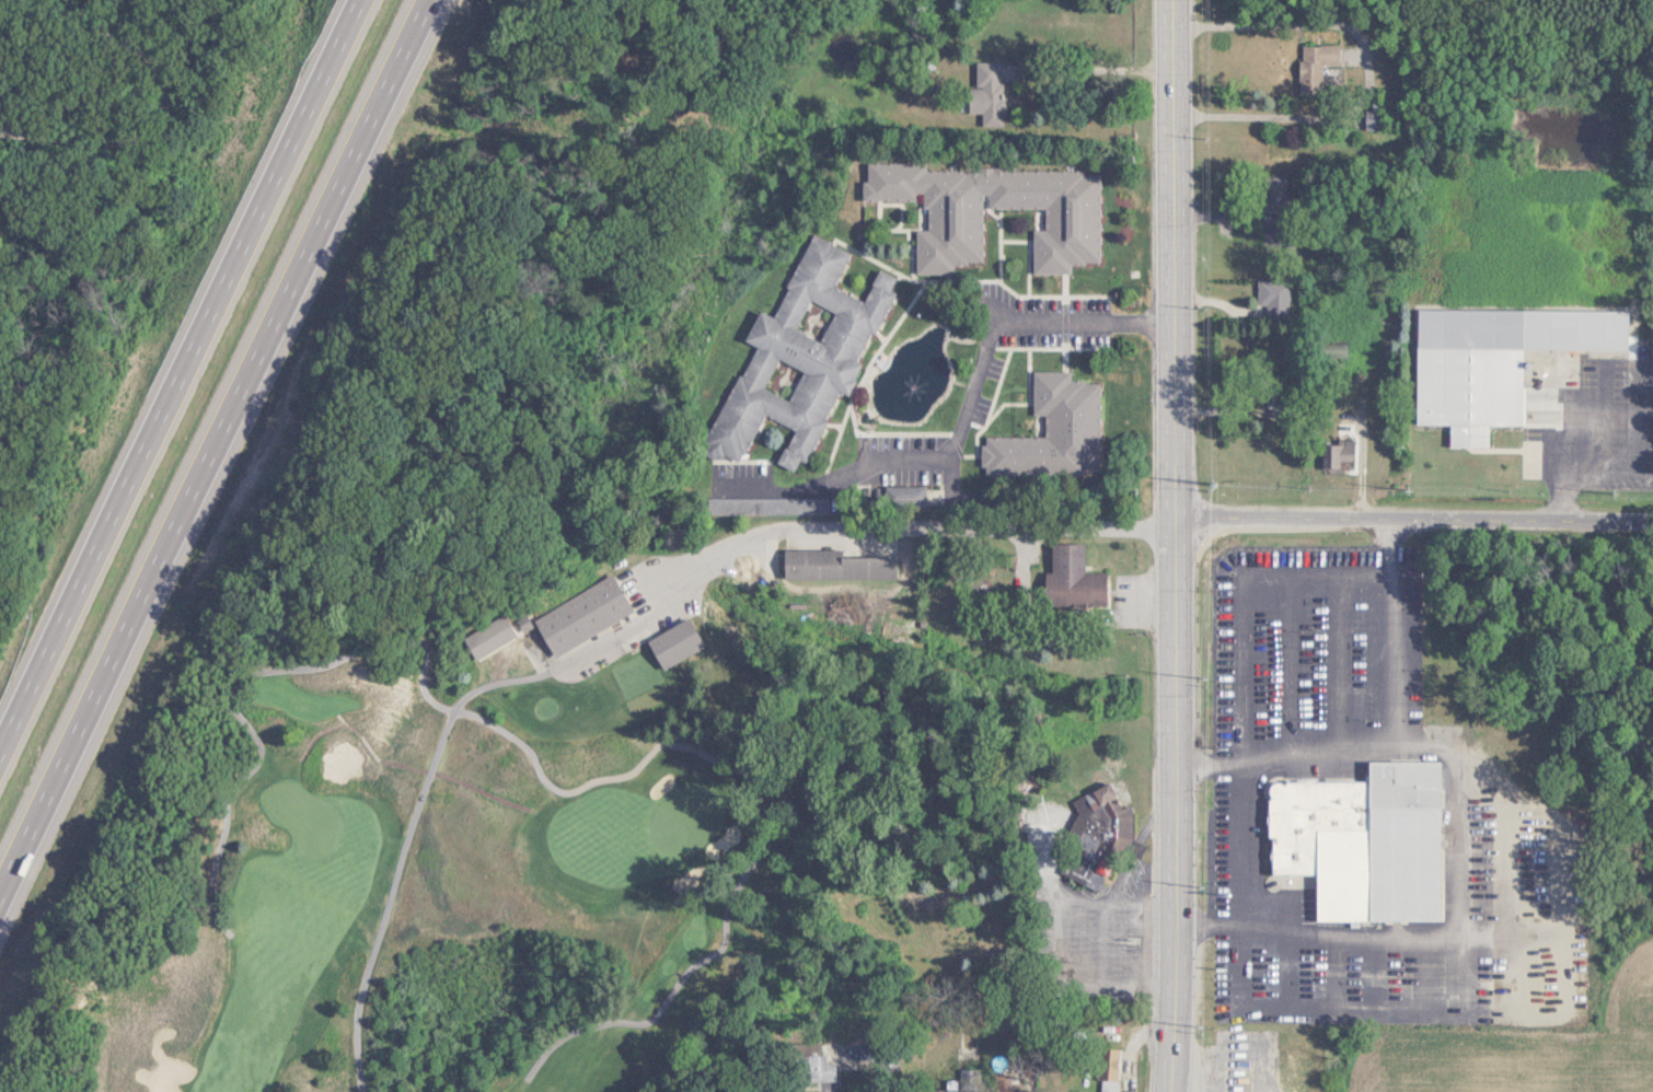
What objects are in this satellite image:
building: (1319, 68)
road: (1365, 69)
building: (987, 93)
road: (151, 101)
building: (1374, 118)
building: (1274, 195)
building: (953, 218)
building: (1272, 299)
building: (798, 358)
building: (1494, 361)
road: (173, 364)
road: (983, 371)
building: (1275, 399)
building: (1053, 430)
road: (210, 440)
building: (1337, 455)
road: (1561, 480)
building: (904, 496)
road: (1412, 516)
road: (904, 528)
road: (1172, 546)
building: (834, 565)
road: (640, 570)
building: (1073, 577)
building: (582, 615)
building: (524, 623)
road: (1388, 631)
building: (488, 634)
road: (638, 636)
building: (675, 644)
road: (558, 666)
road: (235, 679)
road: (1242, 684)
road: (319, 734)
road: (375, 756)
road: (623, 775)
road: (477, 789)
park: (299, 815)
park: (685, 818)
building: (1100, 820)
park: (378, 835)
building: (1362, 841)
road: (1459, 844)
road: (391, 898)
road: (677, 986)
road: (1217, 1048)
building: (816, 1068)
building: (1108, 1069)
building: (1291, 1076)

